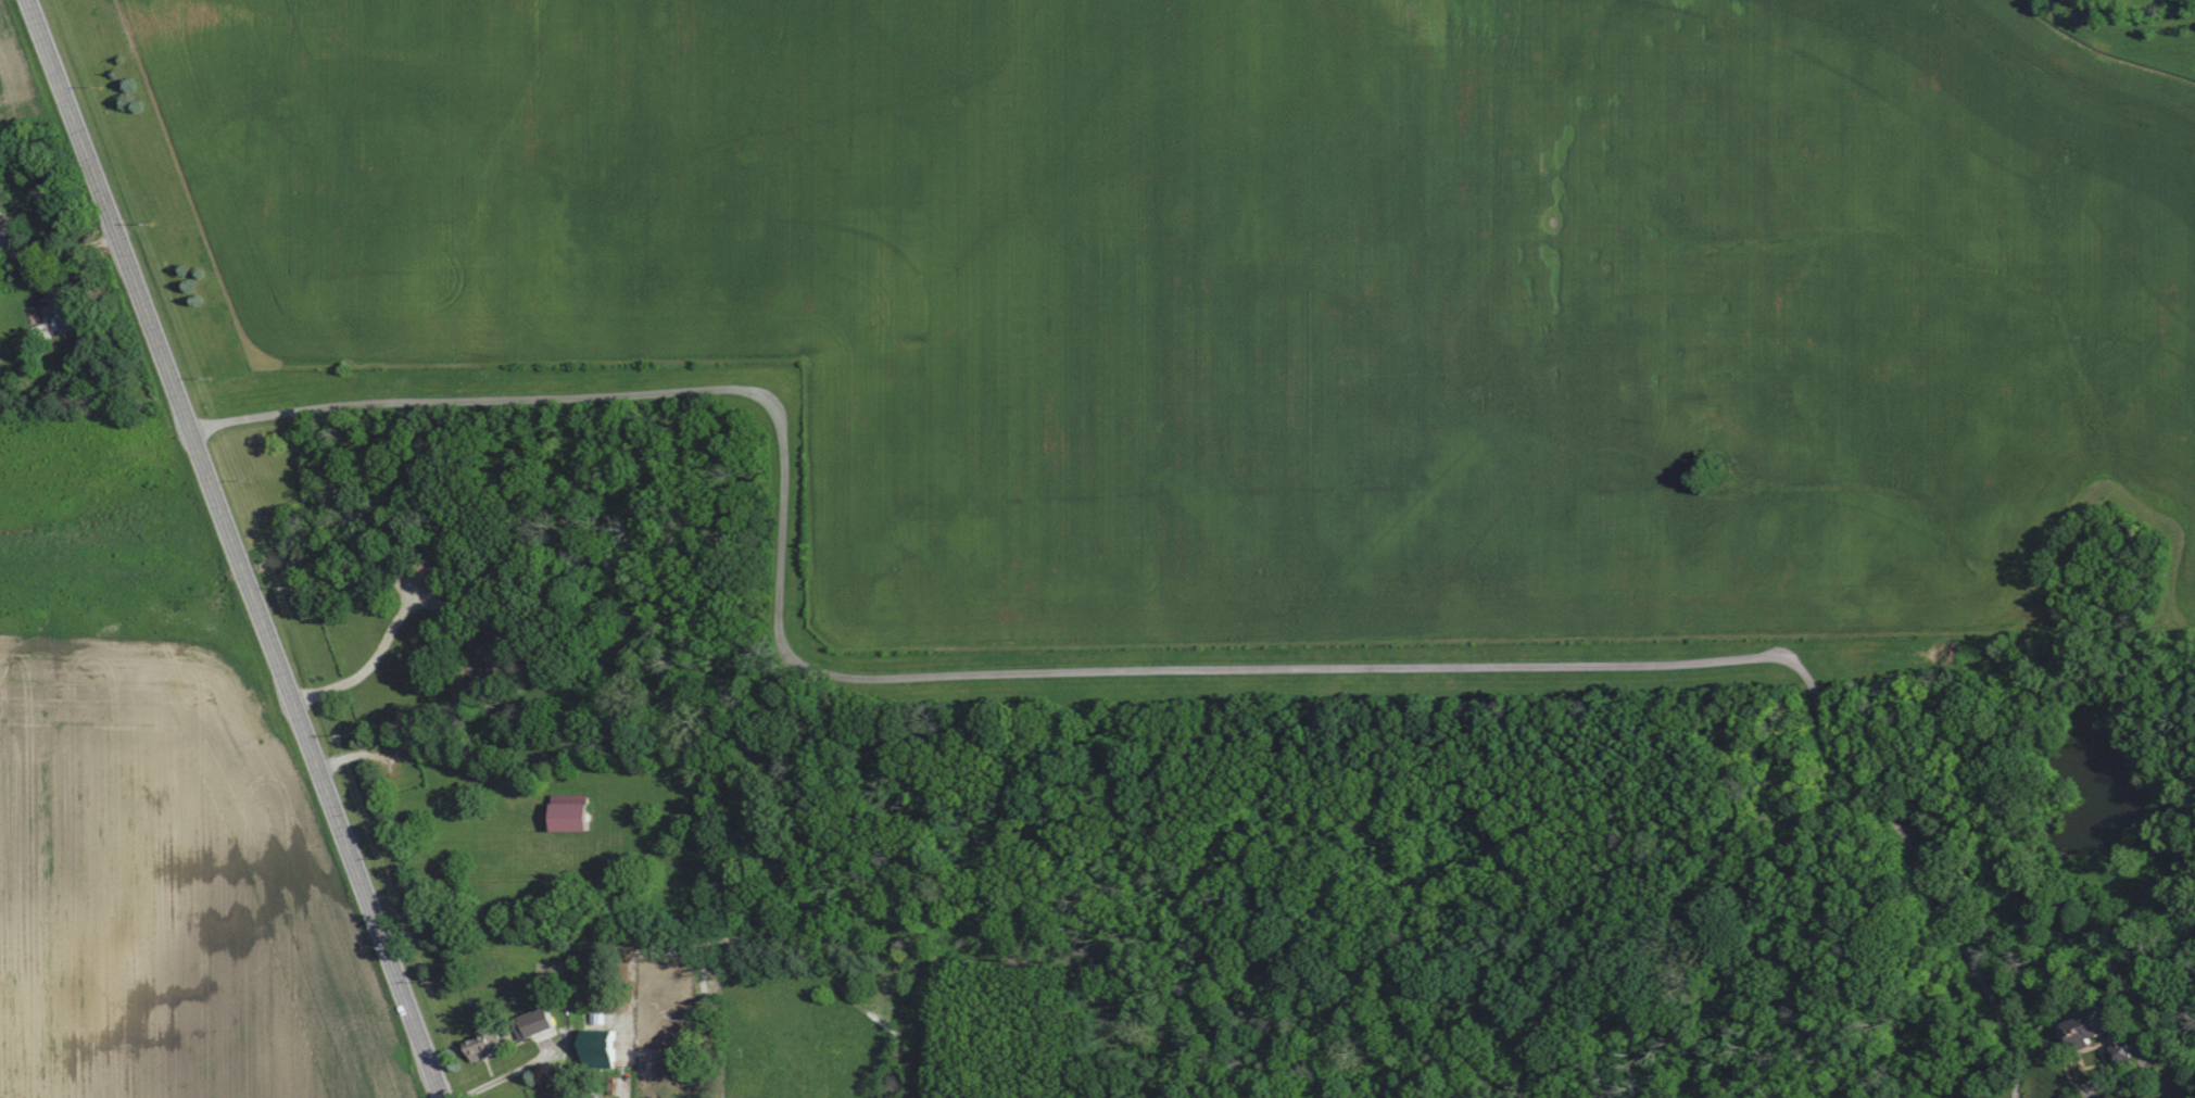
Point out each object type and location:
building: (56, 310)
road: (234, 548)
building: (502, 651)
road: (373, 664)
road: (1114, 671)
building: (576, 812)
building: (540, 1024)
building: (2109, 1032)
building: (489, 1042)
road: (2145, 1073)
road: (506, 1076)

